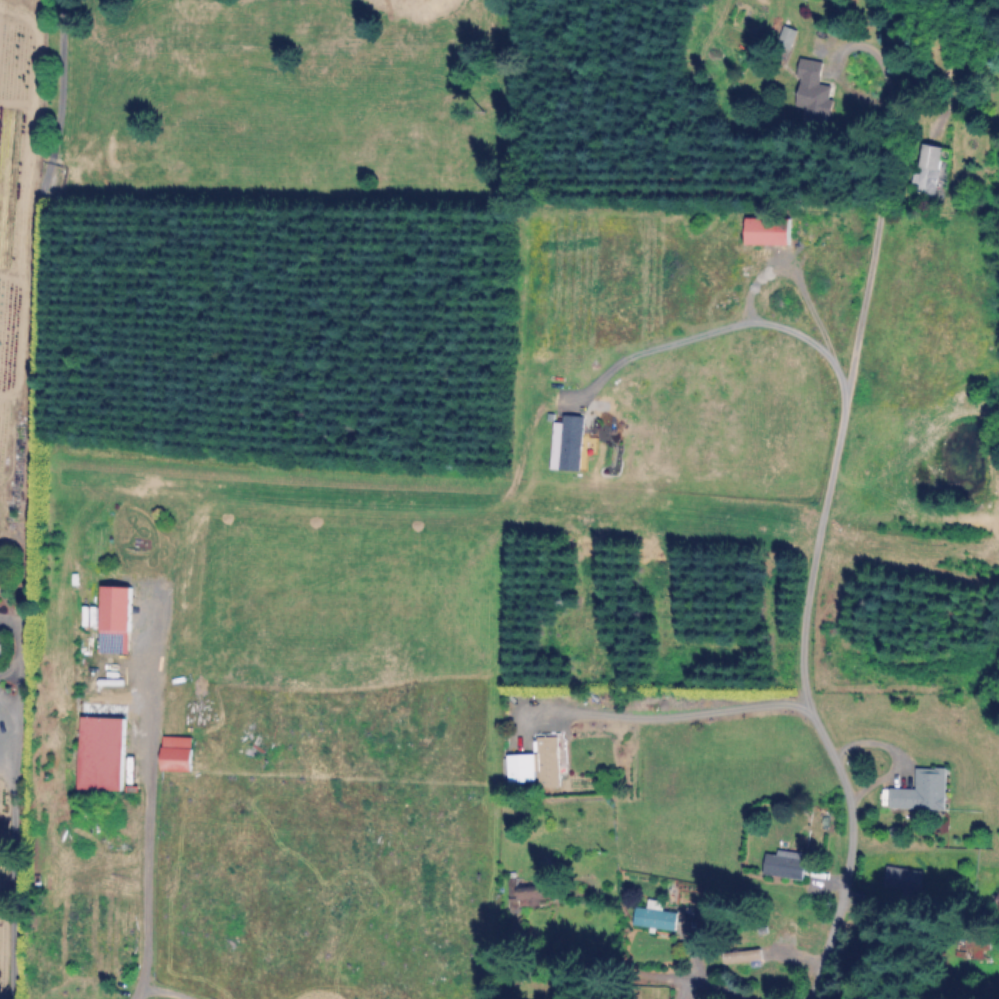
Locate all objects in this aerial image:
building: (816, 96)
building: (931, 174)
road: (774, 269)
road: (720, 320)
road: (25, 358)
building: (569, 442)
road: (818, 557)
building: (119, 618)
road: (667, 710)
road: (5, 727)
building: (181, 751)
building: (539, 762)
building: (924, 790)
road: (151, 801)
building: (784, 867)
road: (7, 882)
building: (788, 934)
road: (163, 990)

